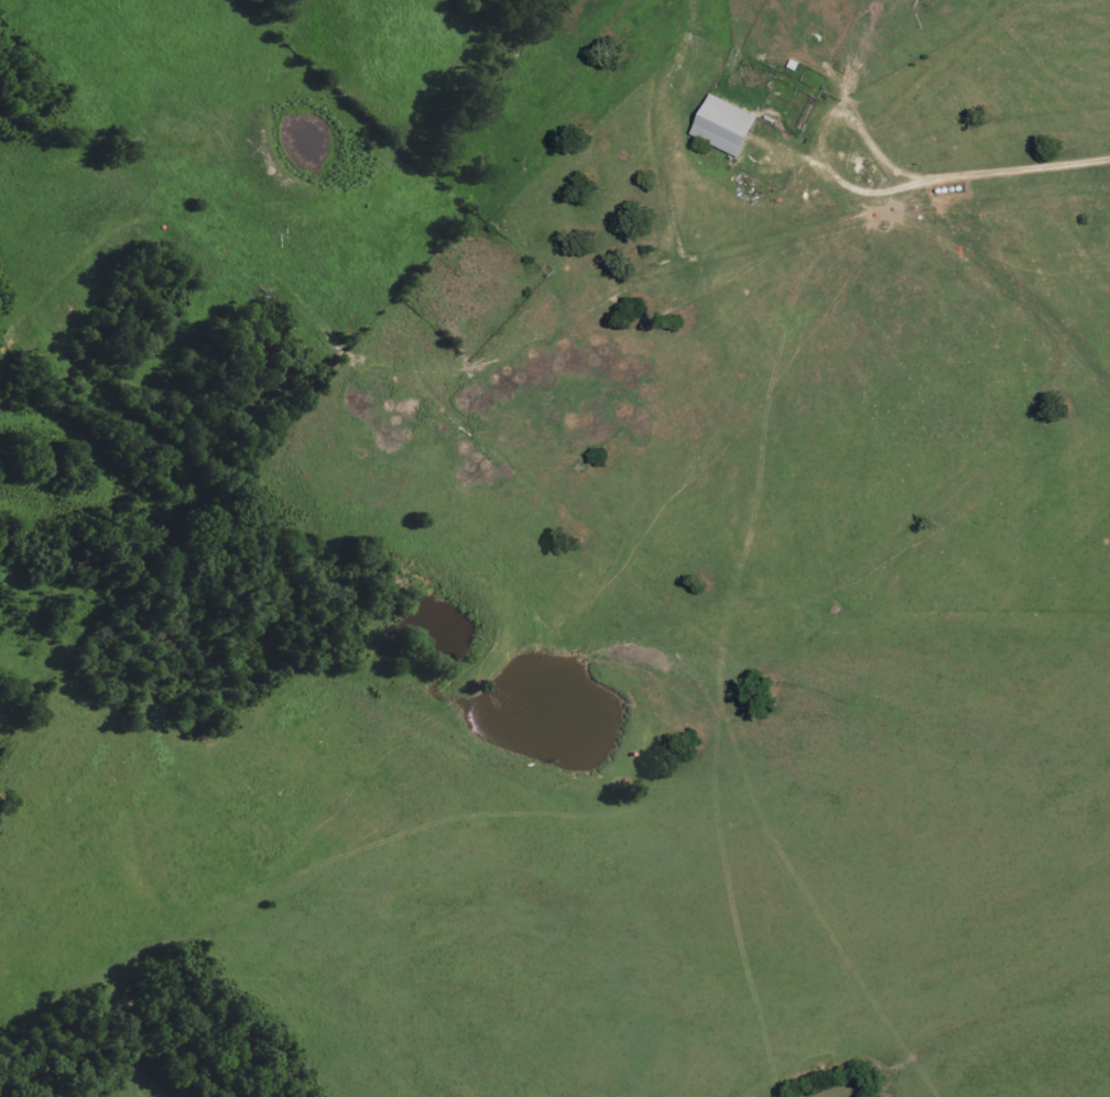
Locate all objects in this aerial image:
road: (825, 123)
building: (728, 127)
road: (1010, 163)

